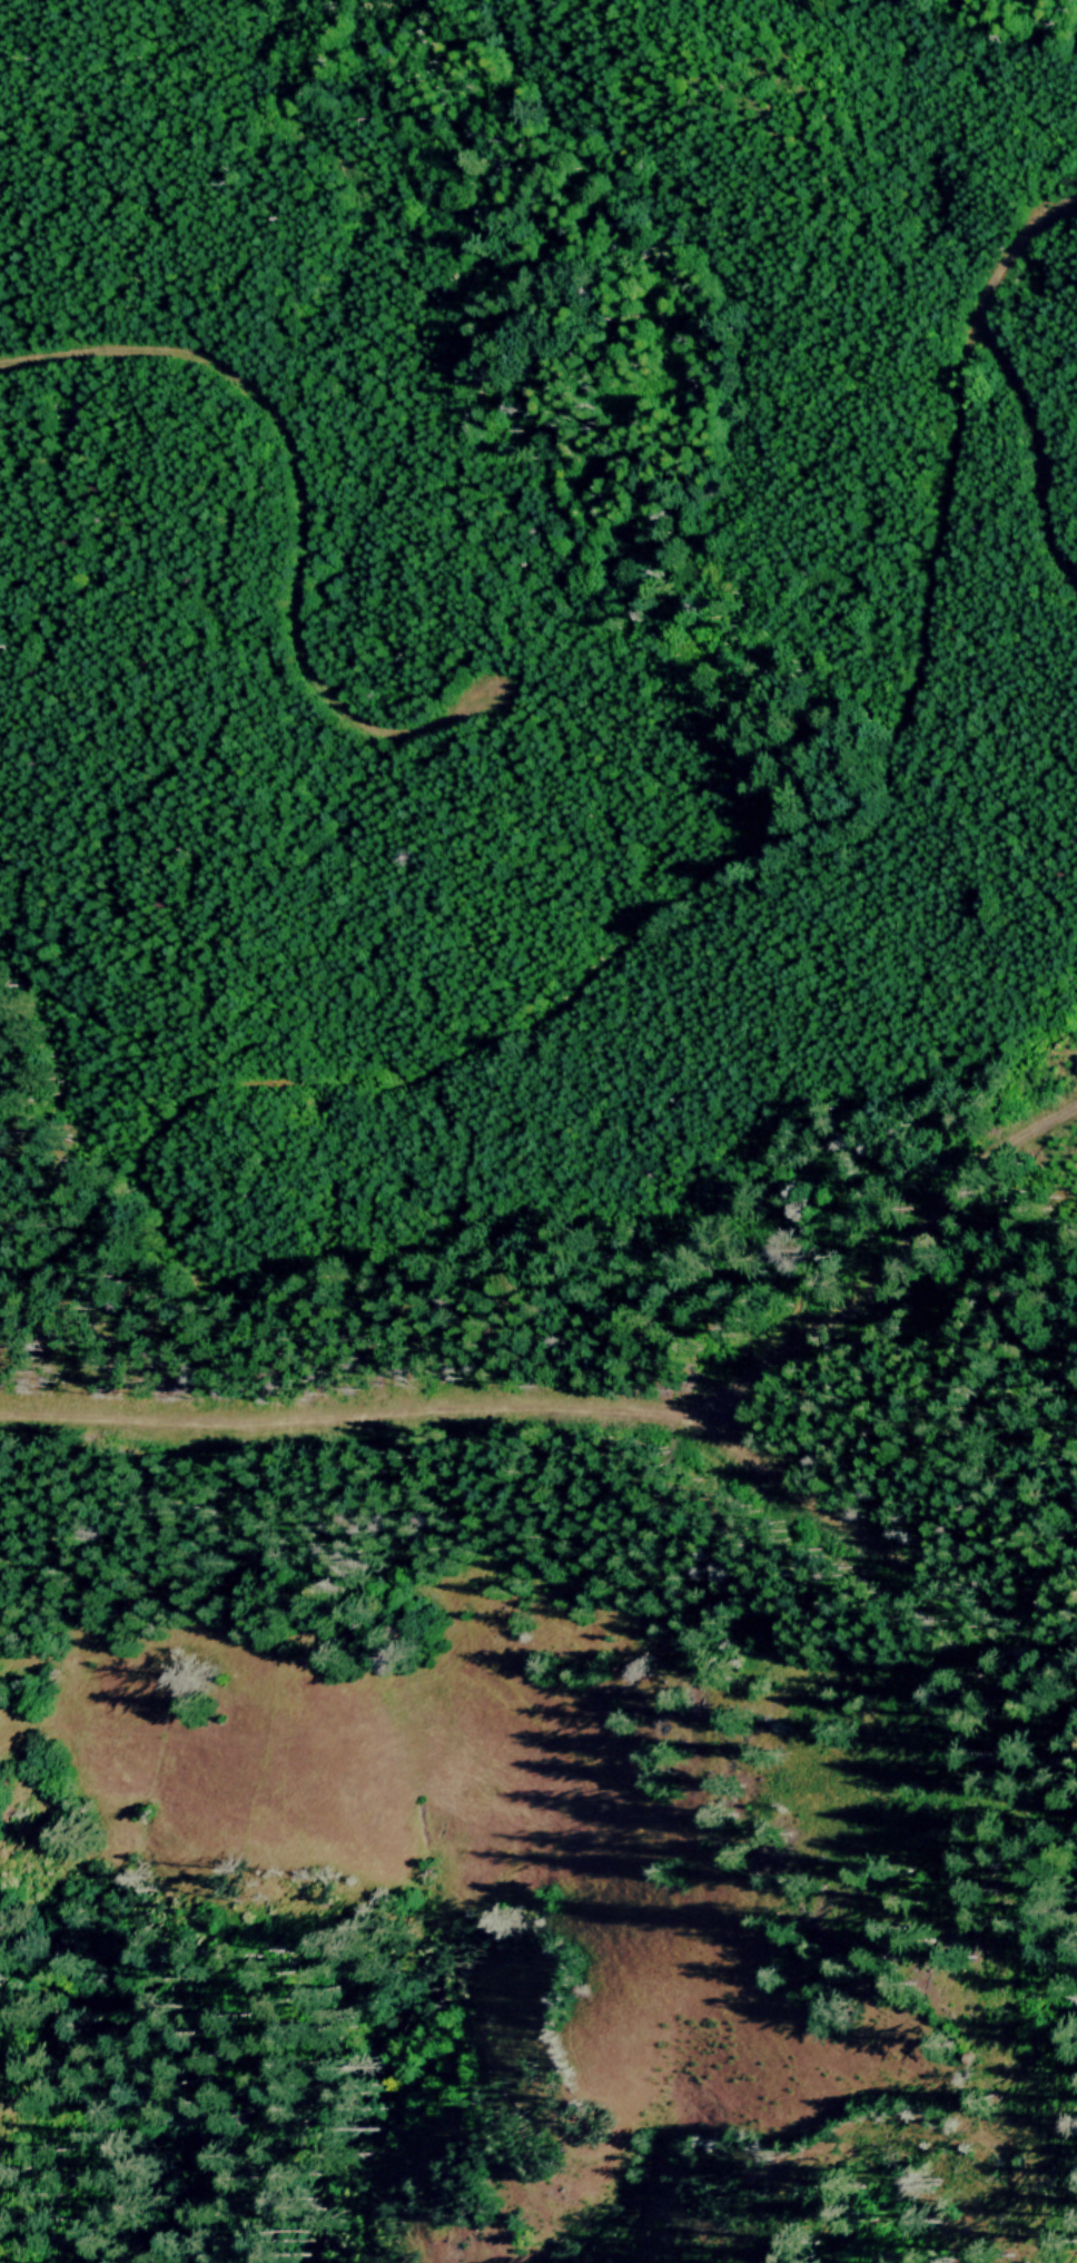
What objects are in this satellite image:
road: (1036, 452)
road: (668, 637)
road: (694, 880)
road: (472, 1464)
road: (1001, 1598)

